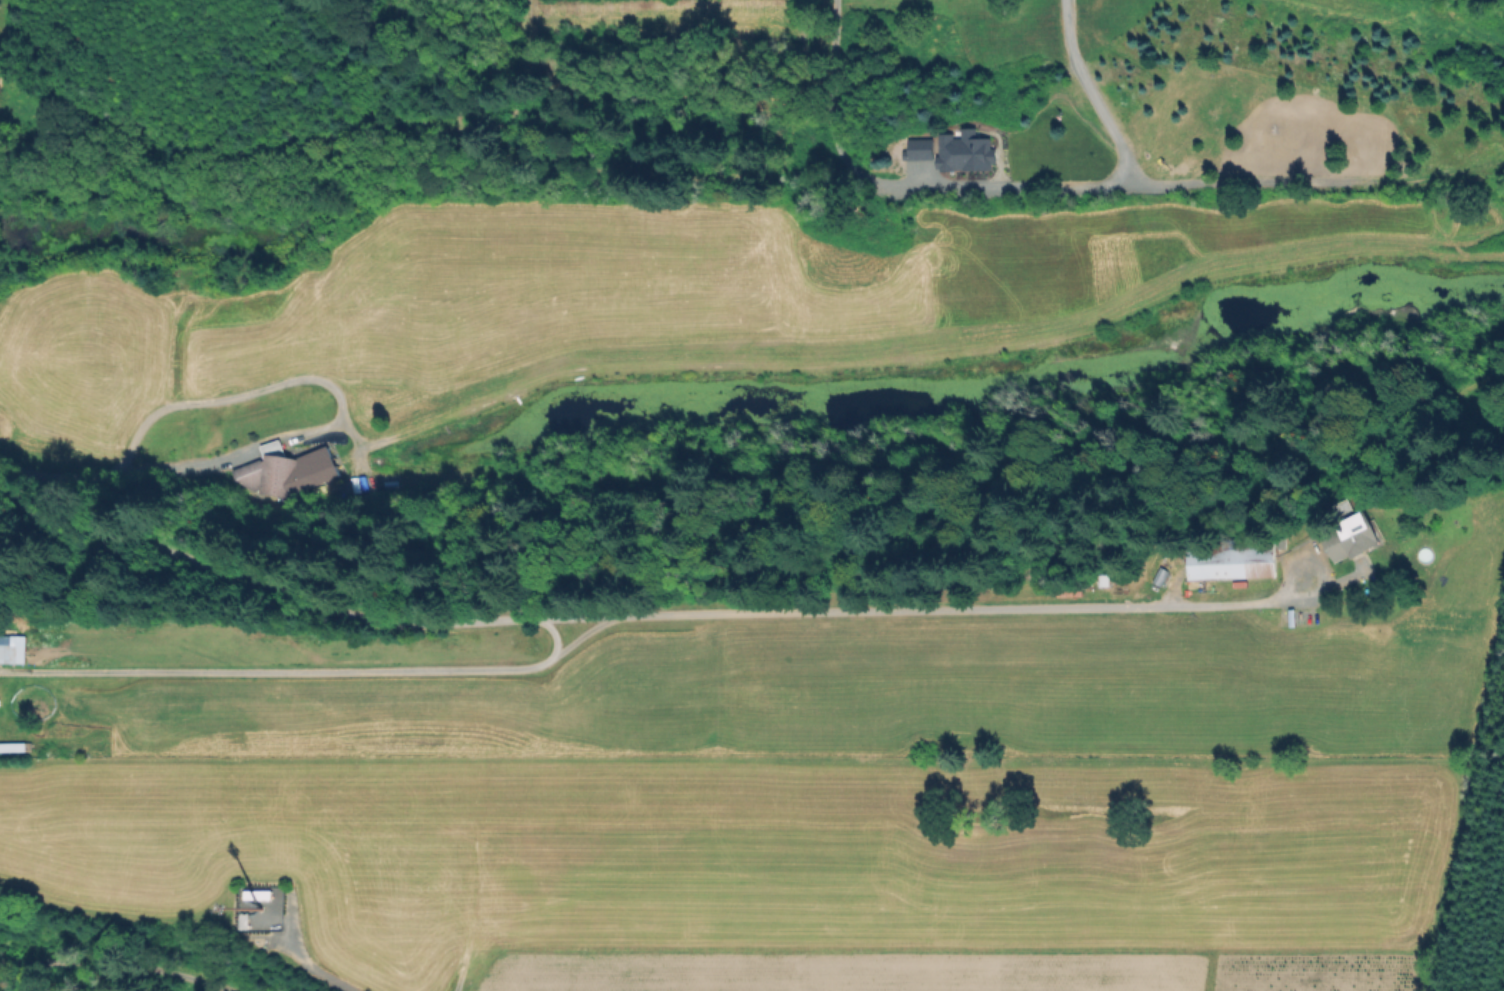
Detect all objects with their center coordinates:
road: (1113, 168)
building: (288, 471)
building: (1352, 538)
road: (187, 555)
building: (1232, 560)
building: (1103, 579)
road: (917, 602)
building: (11, 657)
road: (377, 666)
building: (9, 749)
building: (254, 896)
communications tower: (248, 907)
road: (116, 963)
road: (317, 971)

